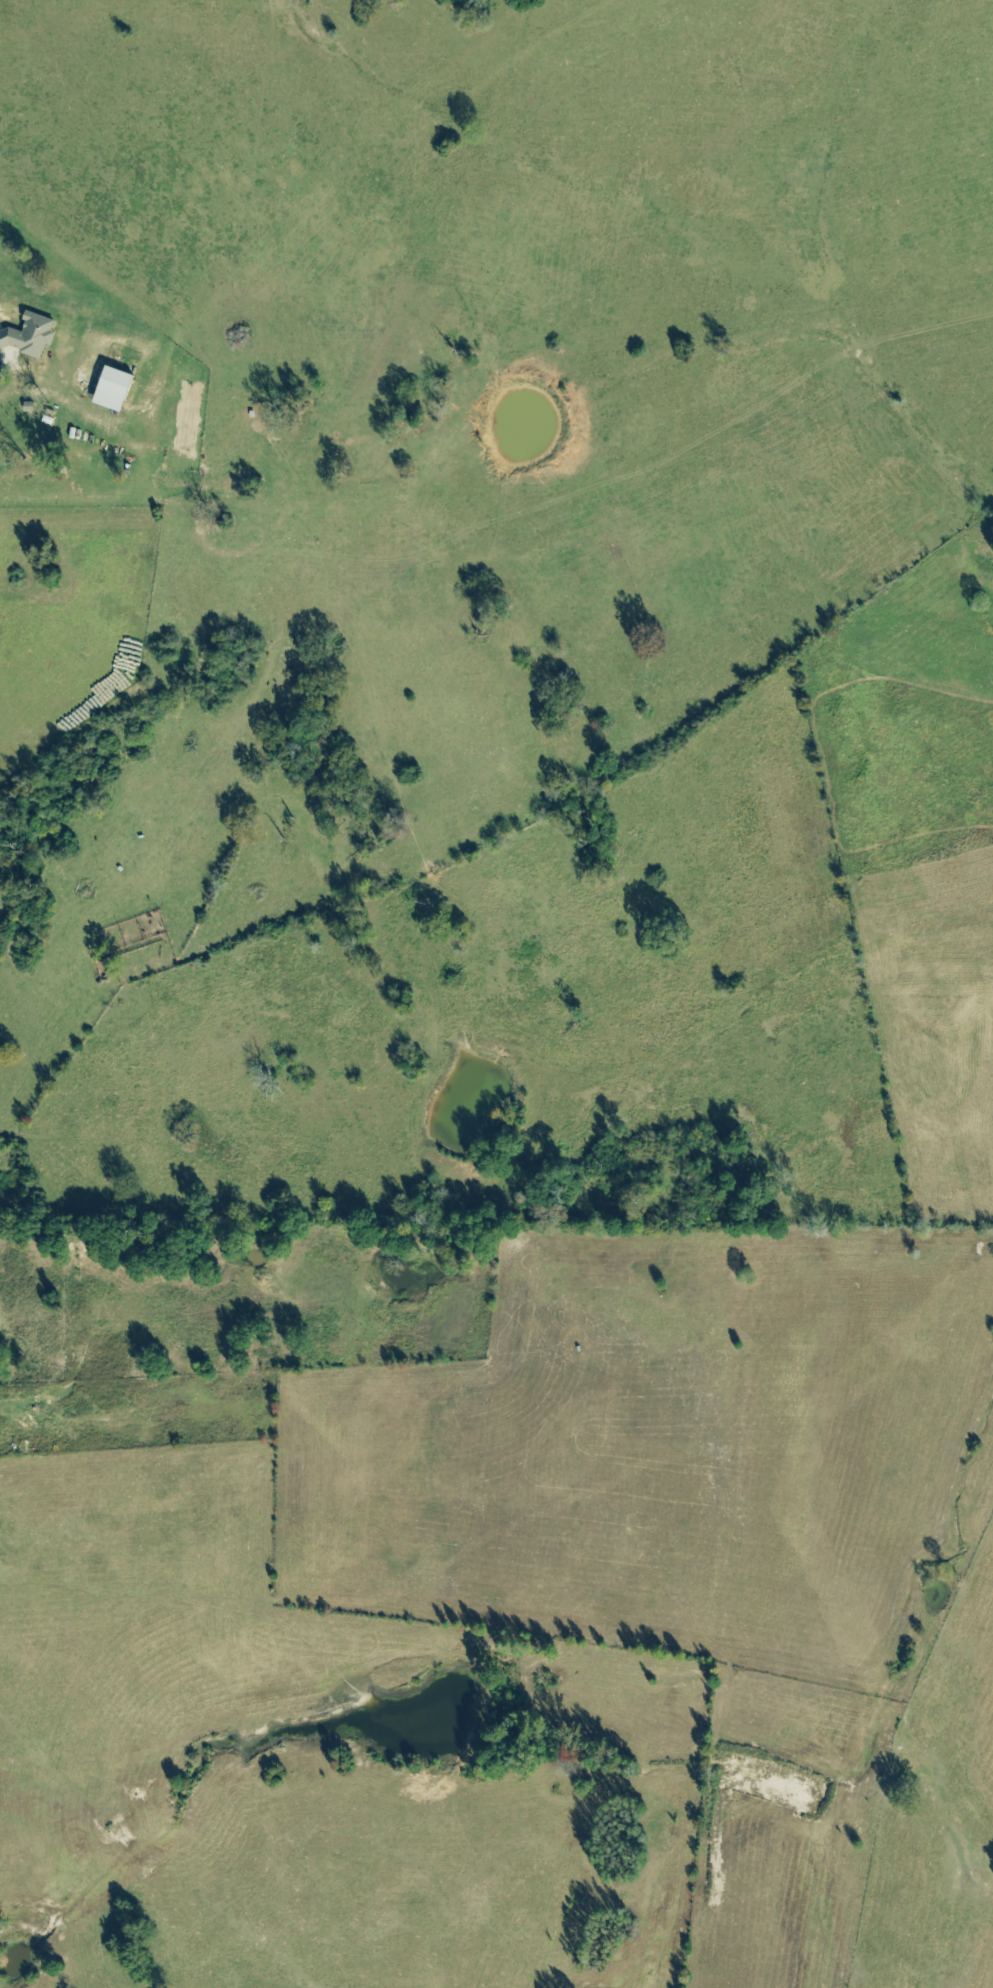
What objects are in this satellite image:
building: (32, 336)
building: (118, 390)

